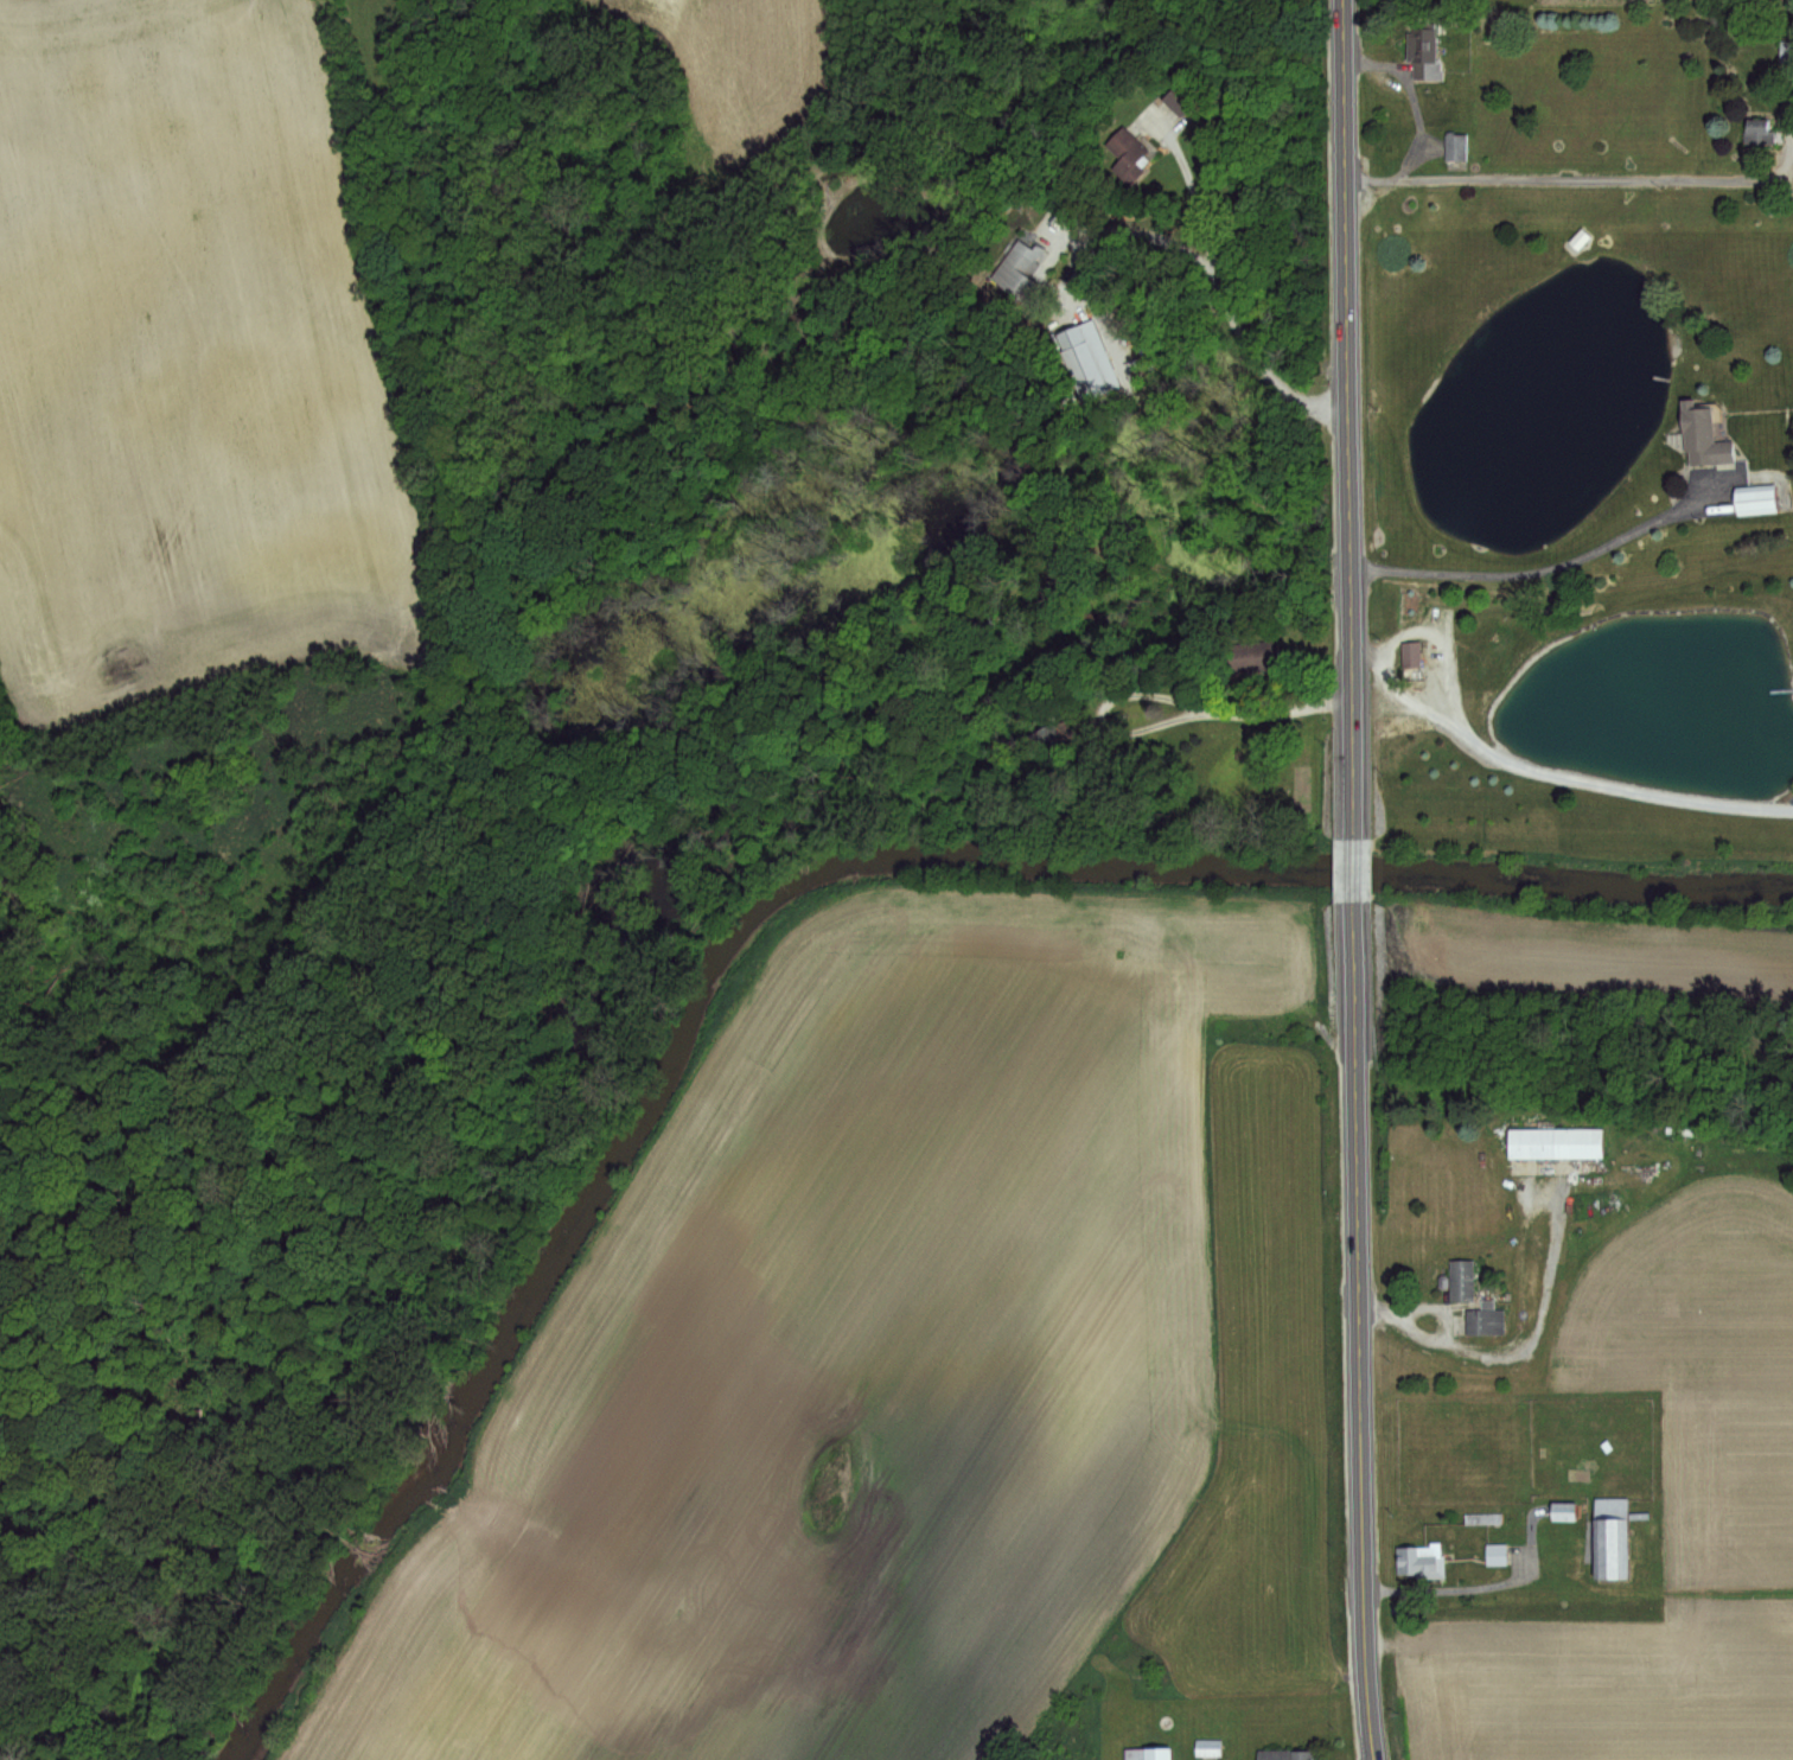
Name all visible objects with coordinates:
crop: (1625, 2)
building: (1422, 51)
building: (1786, 52)
building: (1176, 100)
building: (1760, 132)
building: (1455, 147)
building: (1128, 154)
road: (1580, 176)
road: (1187, 183)
building: (1576, 238)
road: (1148, 241)
building: (1020, 272)
road: (1255, 352)
building: (1078, 362)
crop: (190, 371)
road: (1347, 419)
building: (1699, 438)
building: (1753, 499)
road: (1538, 570)
building: (1489, 649)
building: (1409, 655)
building: (1252, 657)
road: (1166, 722)
building: (1048, 745)
road: (1552, 769)
road: (1352, 884)
river: (799, 925)
building: (1553, 1141)
crop: (1702, 1227)
crop: (1702, 1227)
building: (1459, 1280)
building: (1483, 1319)
road: (1359, 1345)
road: (1508, 1352)
building: (1562, 1511)
building: (1481, 1518)
building: (1608, 1538)
building: (1494, 1552)
building: (1422, 1561)
road: (1473, 1584)
crop: (1603, 1682)
building: (1144, 1754)
building: (1284, 1755)
road: (1368, 1755)

